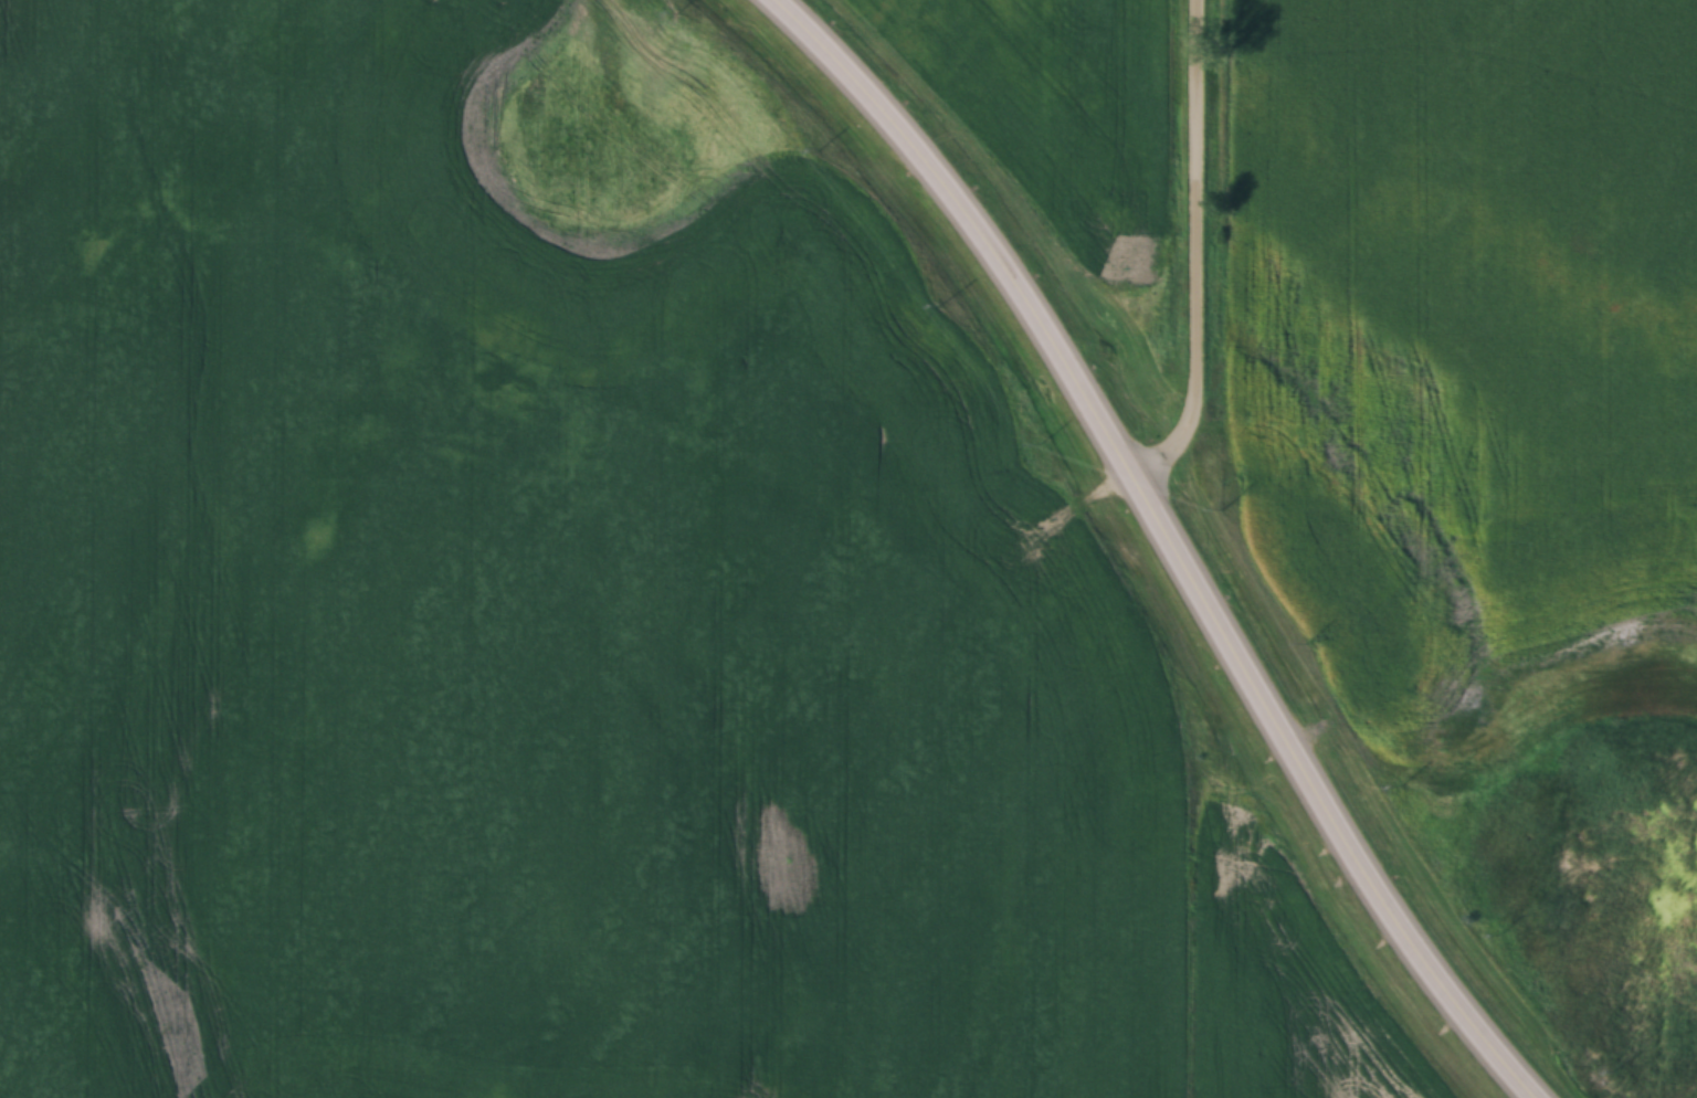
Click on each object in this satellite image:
road: (1198, 255)
road: (1162, 537)

